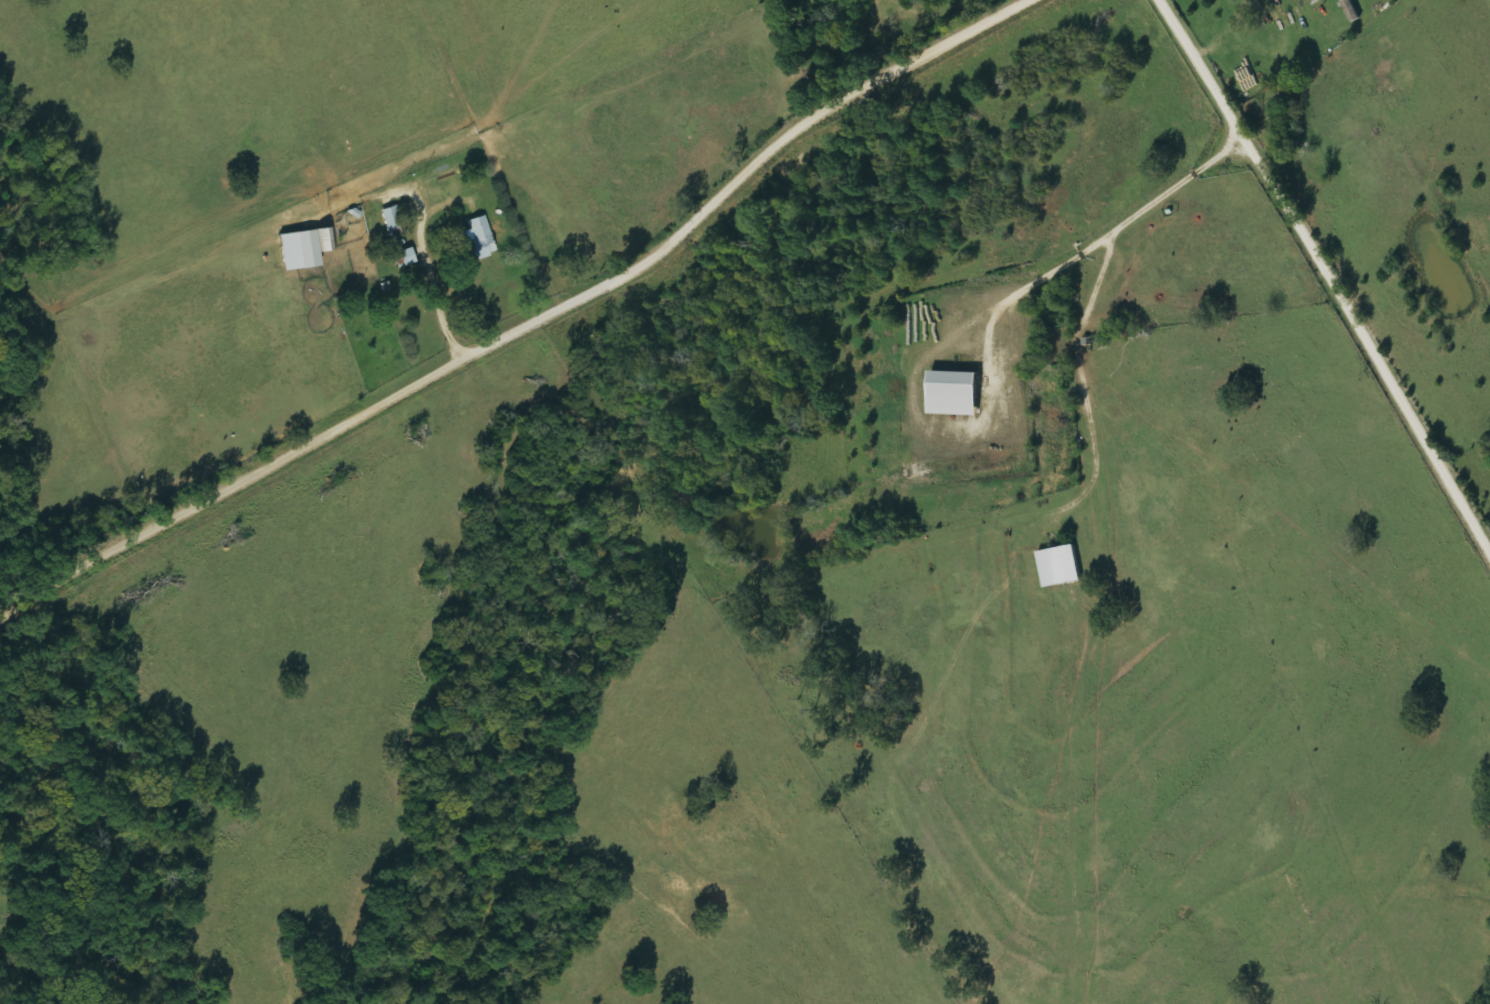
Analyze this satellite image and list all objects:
building: (1350, 10)
building: (394, 223)
building: (477, 240)
building: (304, 248)
building: (402, 258)
road: (1321, 279)
road: (522, 328)
building: (952, 393)
building: (1059, 566)

